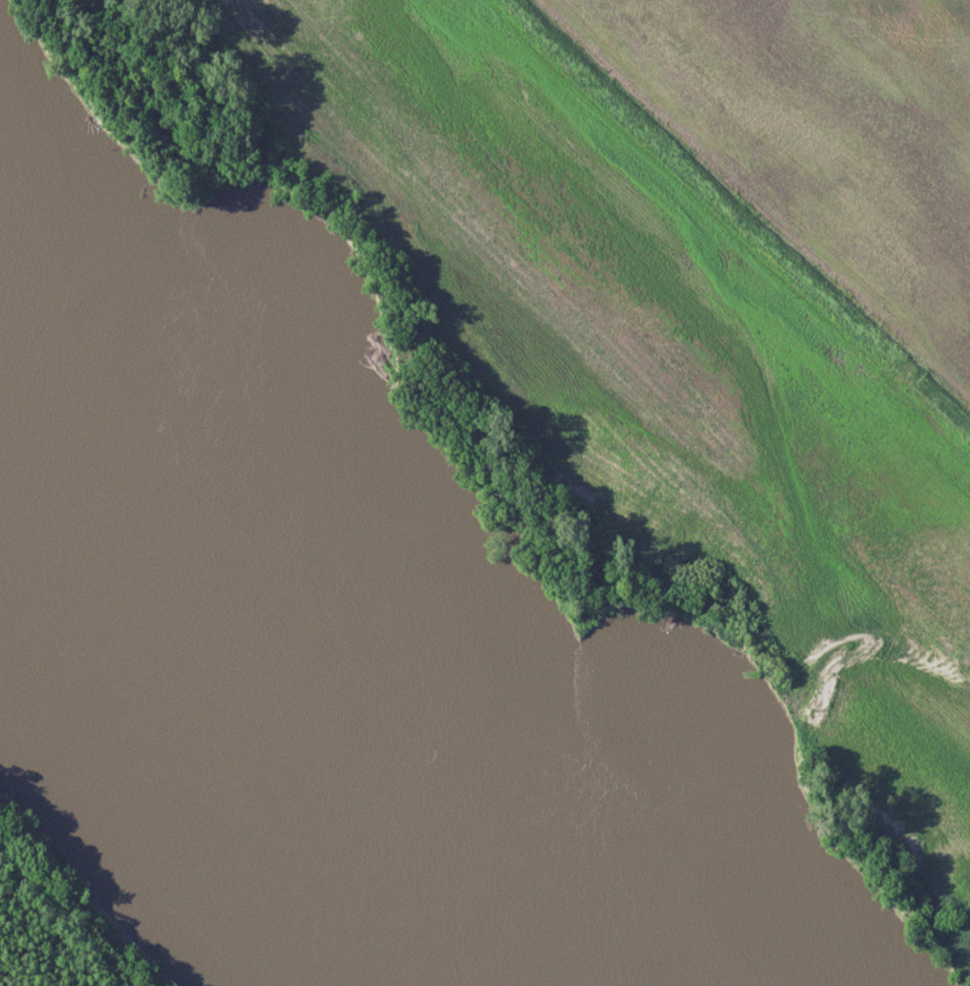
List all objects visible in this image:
river: (275, 698)

